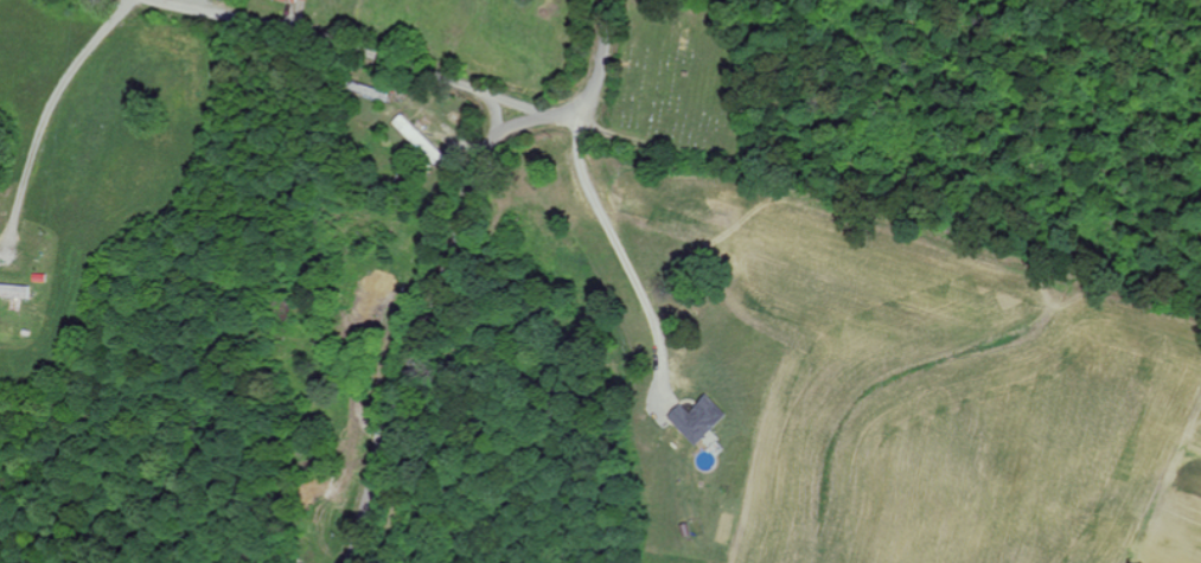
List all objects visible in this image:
building: (299, 0)
road: (351, 49)
park: (685, 82)
road: (494, 117)
building: (419, 137)
road: (449, 252)
building: (15, 290)
building: (695, 418)
building: (710, 452)

